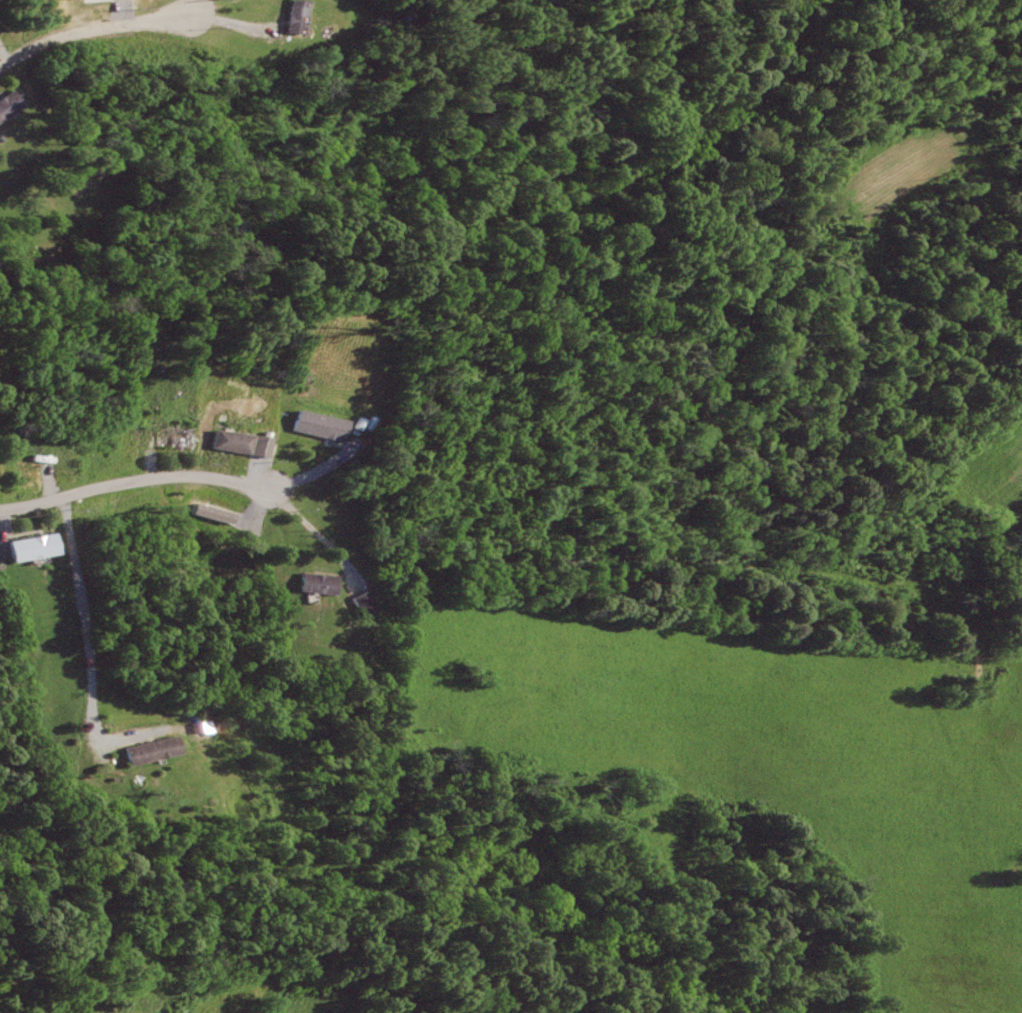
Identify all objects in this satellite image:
road: (190, 7)
building: (297, 16)
building: (381, 19)
road: (225, 21)
road: (88, 31)
road: (5, 53)
building: (11, 105)
building: (317, 424)
building: (174, 436)
building: (230, 441)
road: (258, 461)
road: (148, 463)
road: (312, 471)
road: (133, 481)
road: (320, 533)
road: (7, 537)
building: (36, 546)
building: (323, 583)
building: (368, 603)
road: (93, 654)
building: (210, 731)
building: (158, 749)
building: (231, 797)

